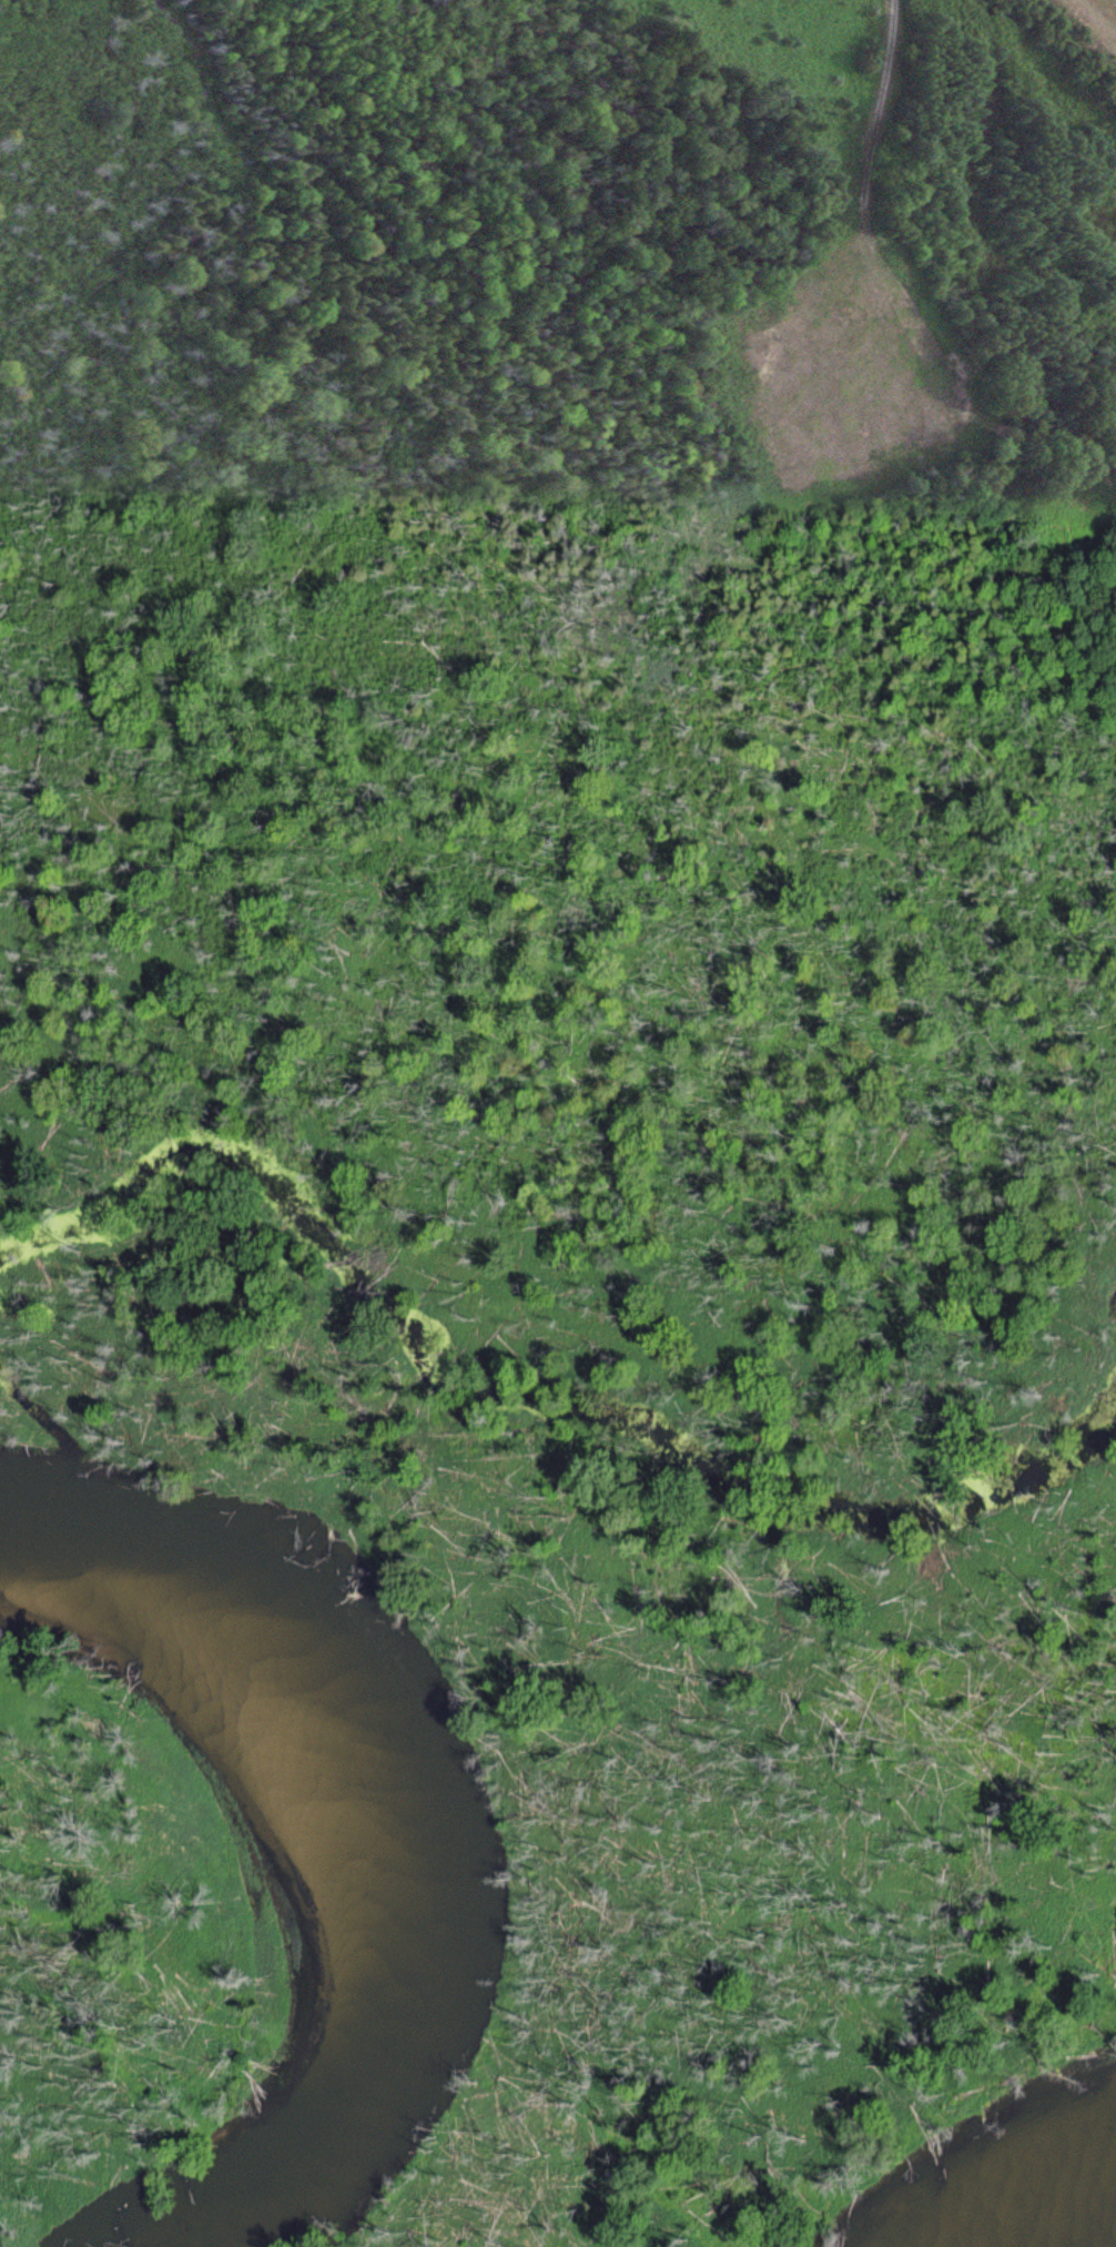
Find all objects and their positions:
airport: (1104, 13)
road: (884, 45)
river: (383, 1812)
river: (1083, 2227)

